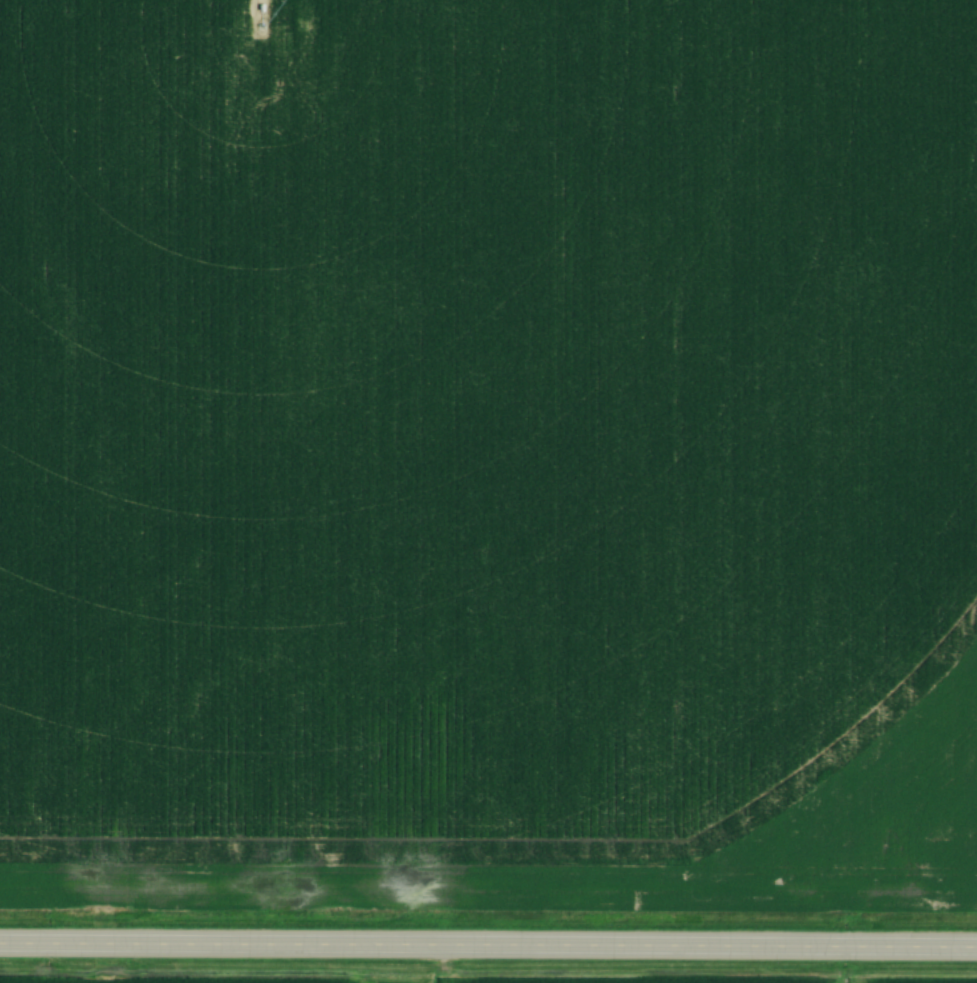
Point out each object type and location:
road: (488, 940)

